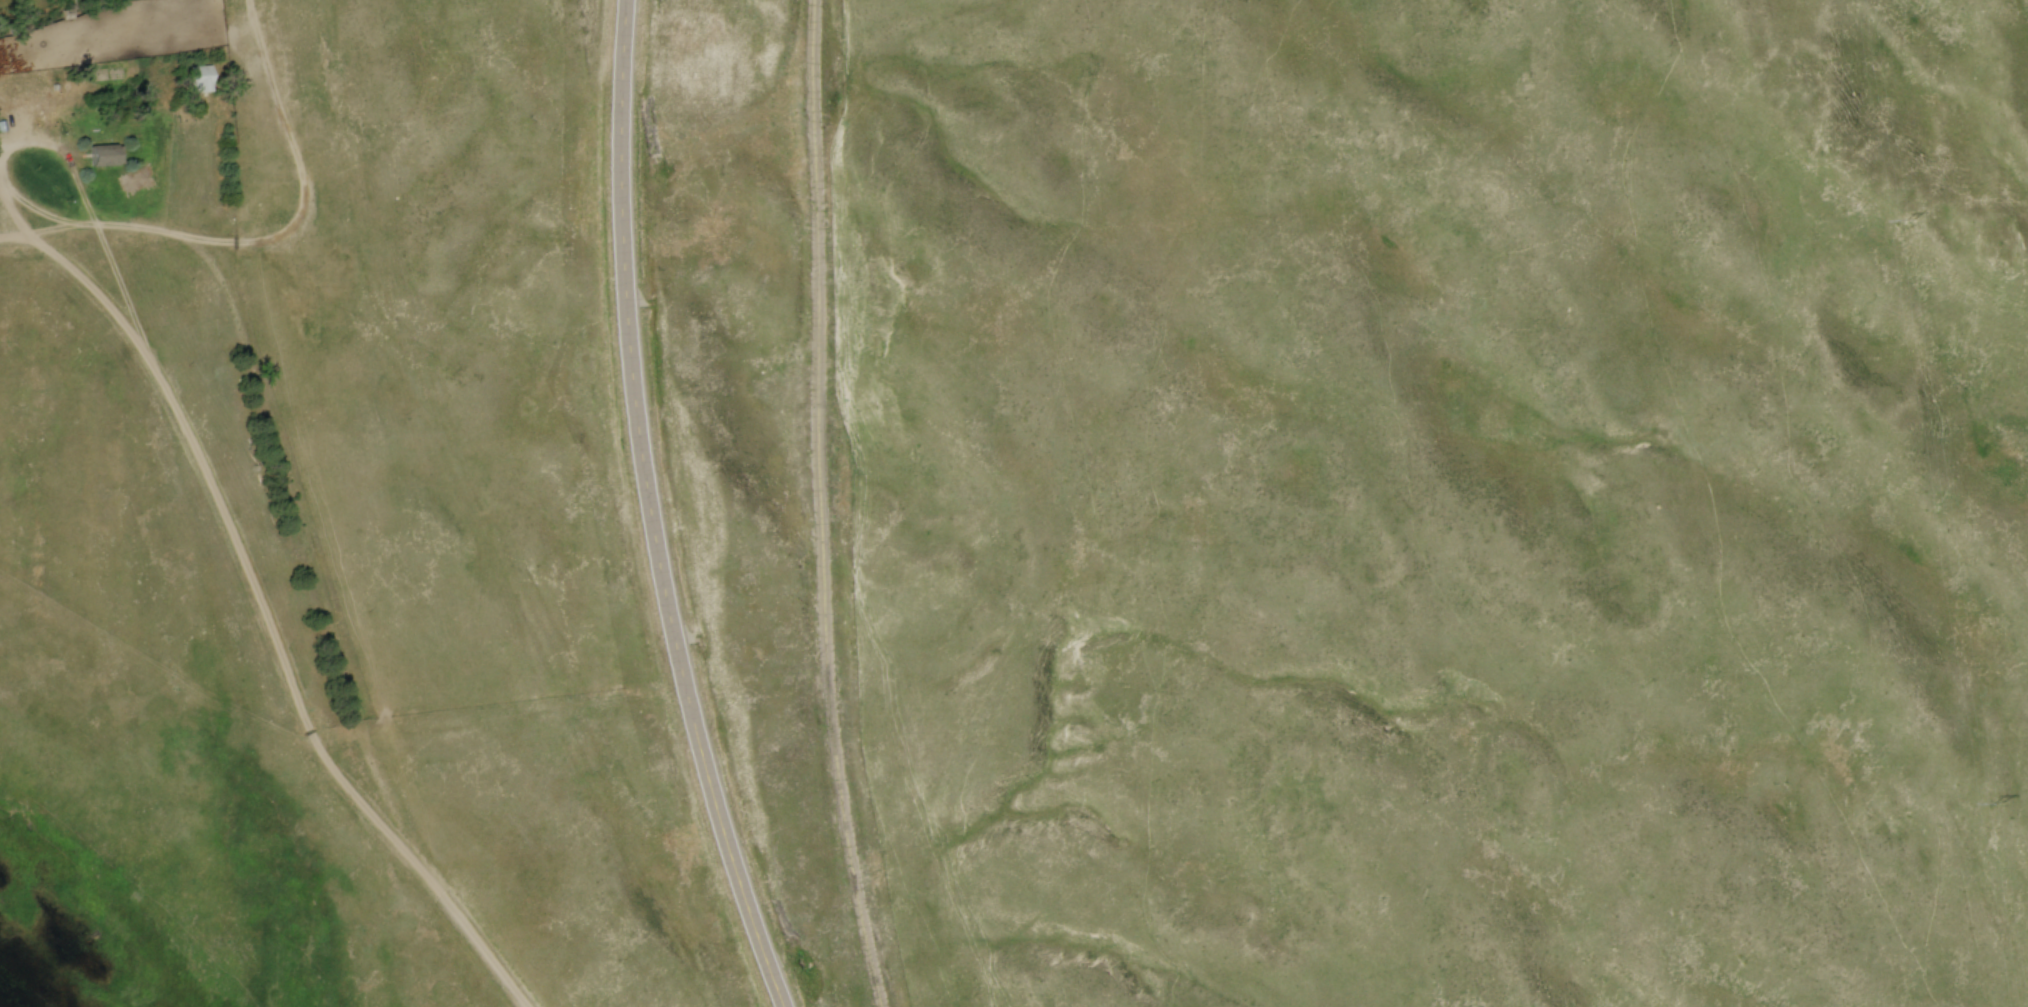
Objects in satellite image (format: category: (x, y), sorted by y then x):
building: (199, 81)
road: (20, 151)
building: (101, 158)
power tower: (1910, 220)
road: (840, 506)
road: (654, 511)
road: (303, 692)
power tower: (1998, 803)

